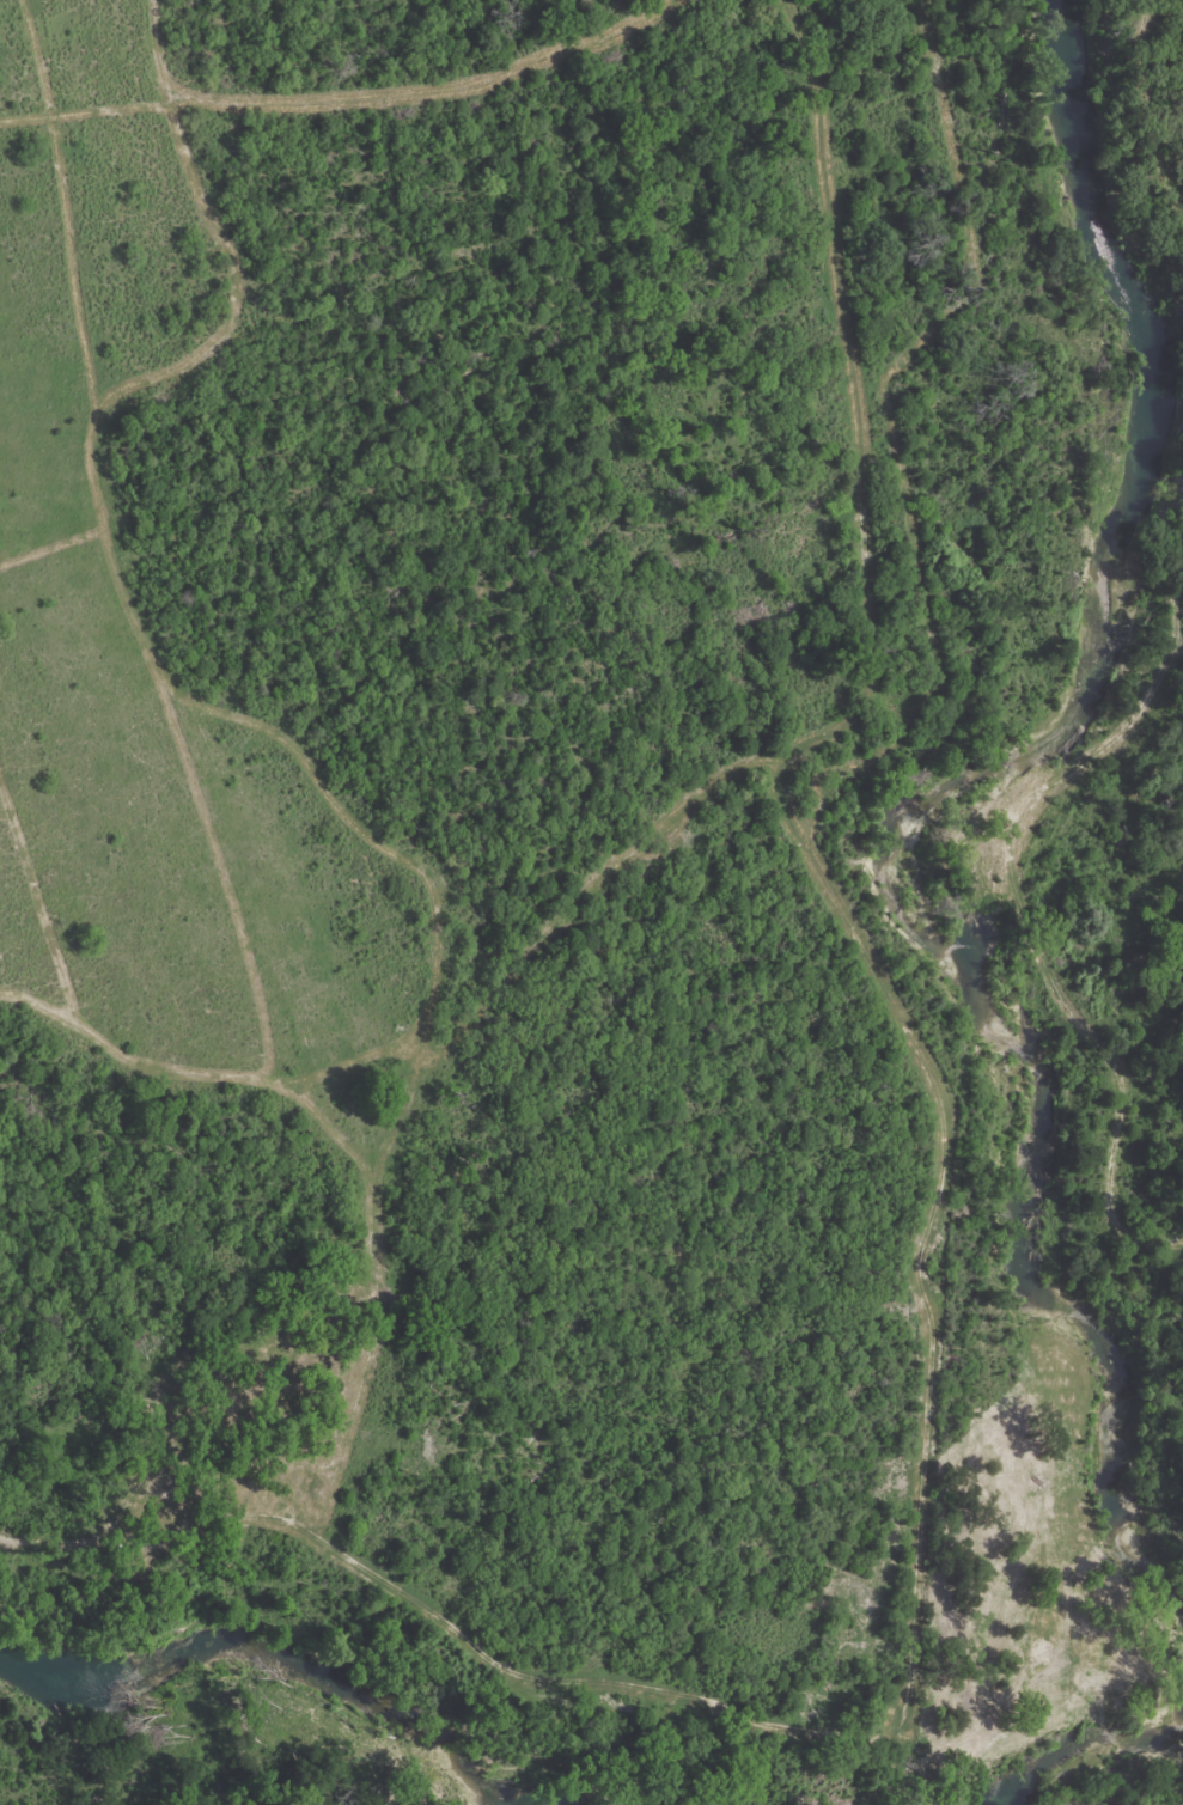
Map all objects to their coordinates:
road: (738, 776)
river: (900, 804)
road: (191, 1361)
river: (274, 1659)
road: (914, 1721)
river: (1106, 1769)

